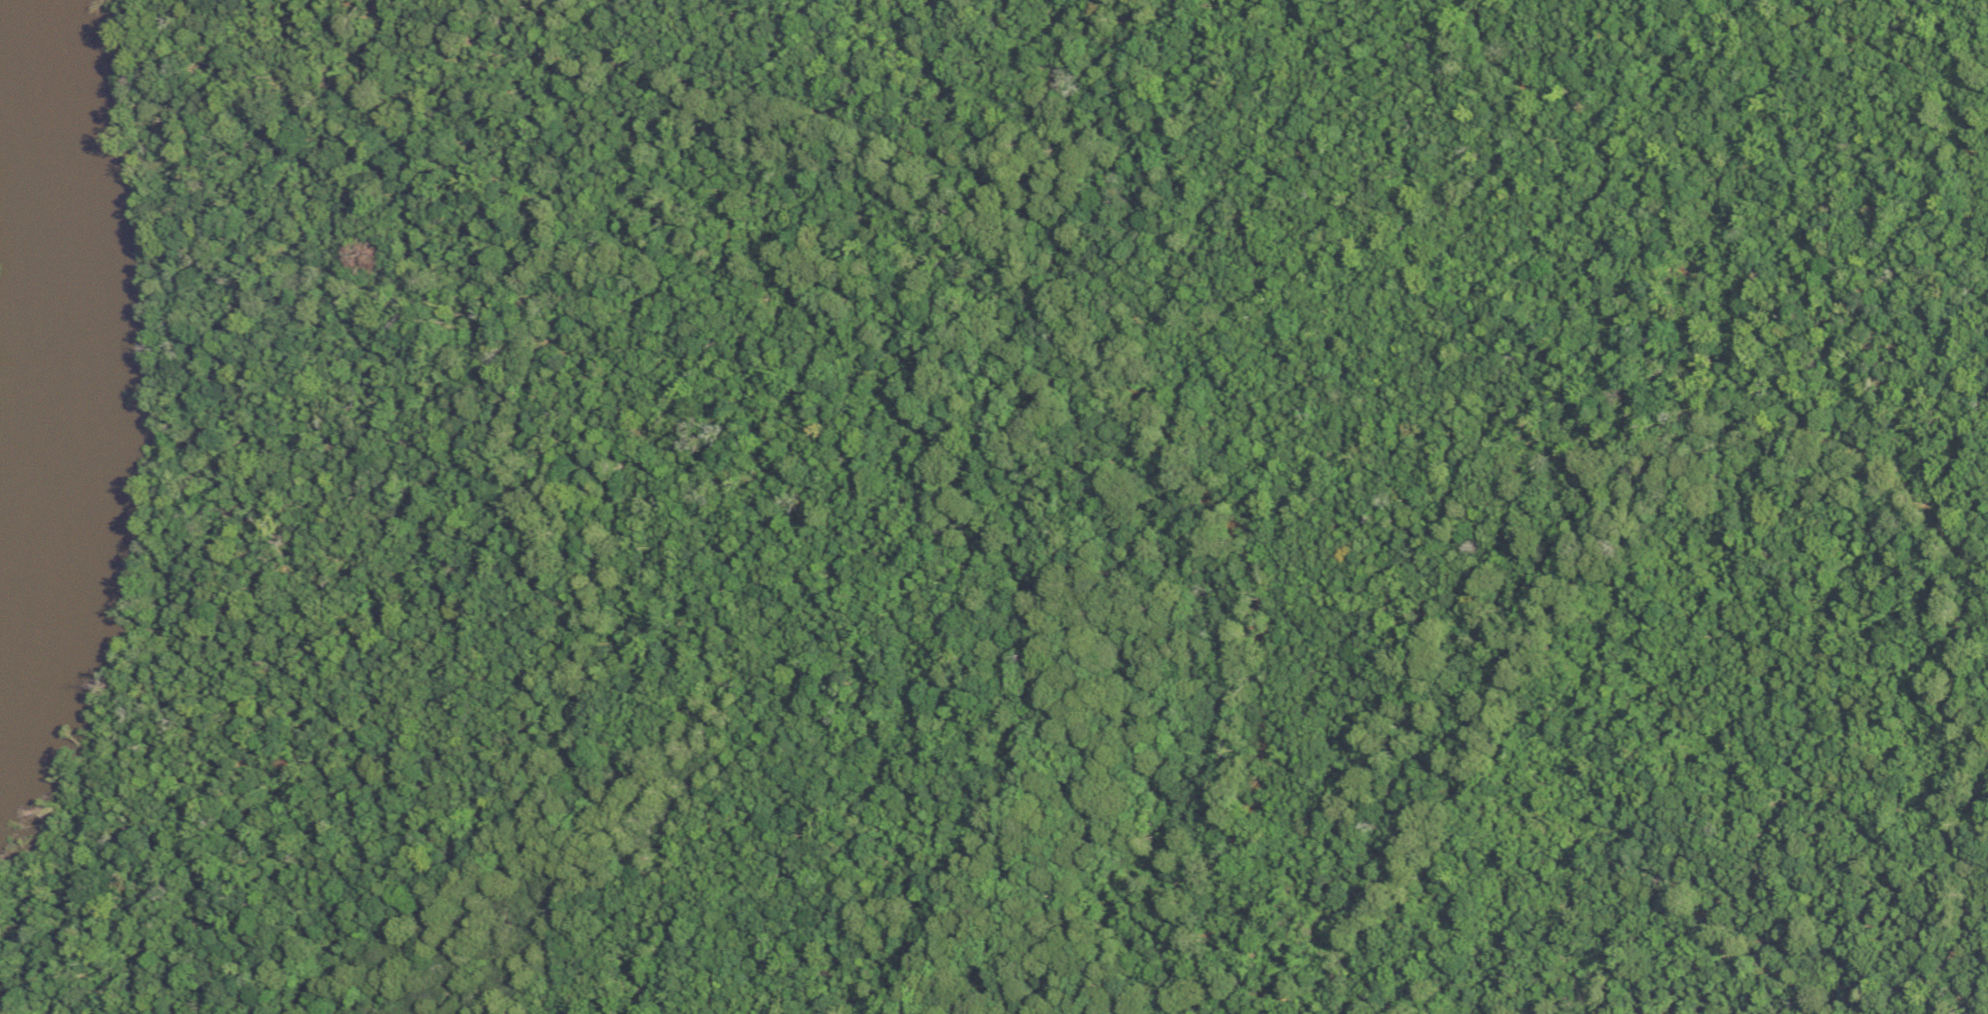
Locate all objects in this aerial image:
river: (32, 282)

